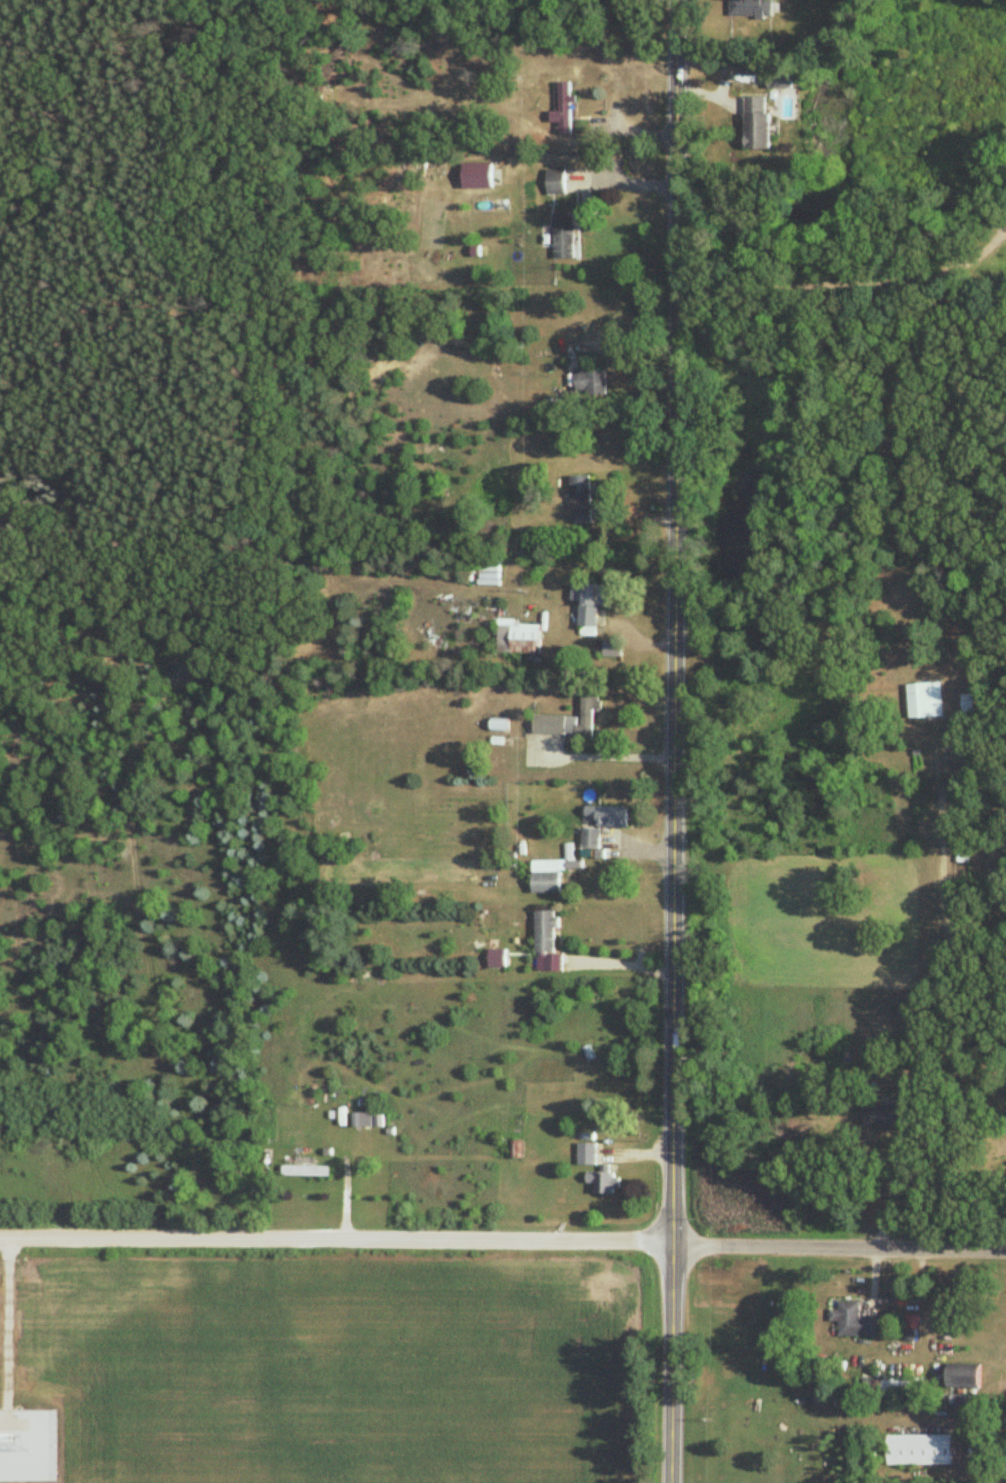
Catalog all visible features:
building: (757, 9)
building: (563, 111)
building: (756, 125)
building: (476, 177)
building: (554, 183)
building: (562, 238)
road: (824, 284)
building: (591, 383)
building: (580, 500)
building: (487, 574)
building: (588, 612)
building: (518, 640)
building: (608, 654)
building: (925, 701)
building: (967, 704)
building: (570, 723)
road: (674, 741)
road: (603, 744)
building: (611, 817)
building: (588, 842)
building: (545, 883)
building: (544, 944)
building: (495, 958)
building: (886, 1117)
building: (362, 1120)
building: (586, 1155)
building: (305, 1171)
building: (601, 1182)
road: (892, 1193)
road: (502, 1243)
building: (852, 1321)
building: (964, 1379)
building: (962, 1406)
building: (919, 1451)

